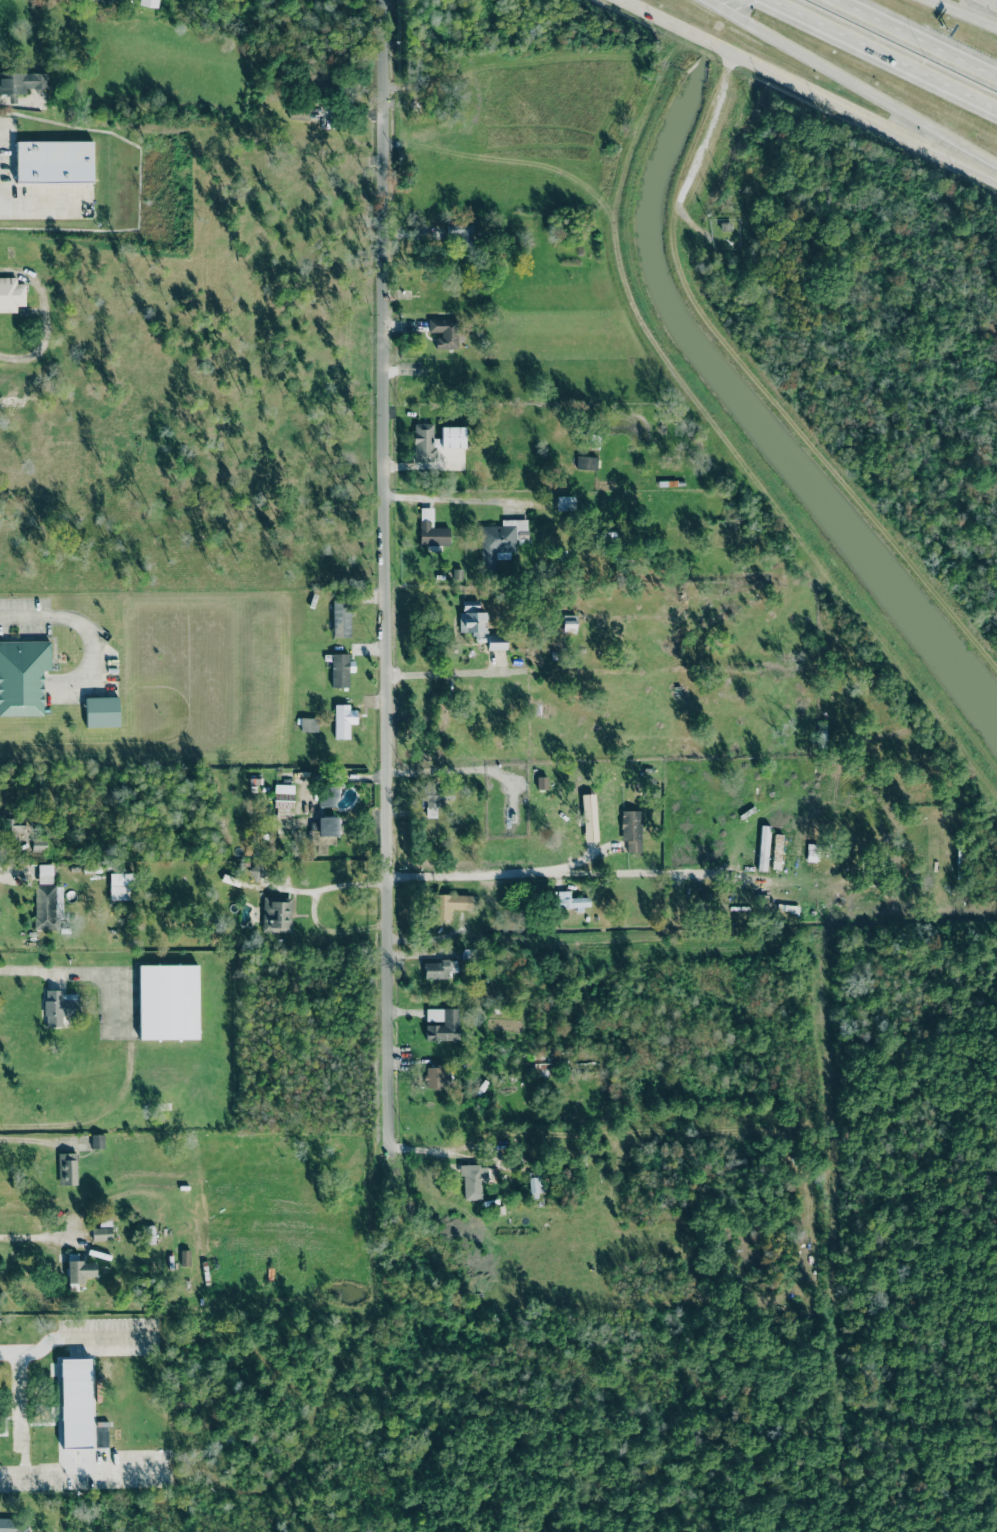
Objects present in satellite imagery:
road: (991, 2)
building: (148, 7)
road: (964, 12)
road: (669, 20)
road: (919, 37)
road: (891, 50)
building: (318, 75)
road: (855, 81)
building: (21, 82)
road: (854, 109)
road: (699, 146)
building: (54, 162)
road: (34, 207)
building: (725, 226)
building: (460, 233)
building: (11, 294)
building: (443, 332)
building: (435, 440)
building: (585, 462)
road: (448, 499)
building: (565, 502)
building: (430, 529)
building: (499, 540)
road: (385, 573)
road: (70, 618)
building: (341, 618)
building: (568, 623)
building: (478, 626)
building: (340, 669)
road: (440, 673)
building: (23, 676)
building: (102, 711)
building: (343, 720)
building: (308, 724)
road: (456, 769)
building: (541, 782)
building: (283, 796)
building: (327, 796)
building: (435, 797)
building: (589, 817)
building: (327, 826)
building: (16, 828)
building: (631, 829)
building: (39, 845)
building: (763, 847)
building: (776, 851)
building: (811, 852)
road: (580, 861)
building: (255, 870)
road: (565, 873)
building: (45, 874)
building: (119, 886)
road: (330, 887)
building: (571, 900)
building: (449, 904)
building: (48, 906)
building: (277, 914)
building: (439, 968)
road: (59, 970)
building: (168, 1002)
building: (59, 1006)
building: (442, 1024)
building: (433, 1077)
building: (98, 1141)
building: (67, 1168)
building: (472, 1180)
building: (535, 1184)
building: (101, 1233)
road: (36, 1237)
building: (80, 1270)
road: (83, 1335)
building: (76, 1403)
road: (22, 1415)
road: (94, 1470)
building: (13, 1525)

